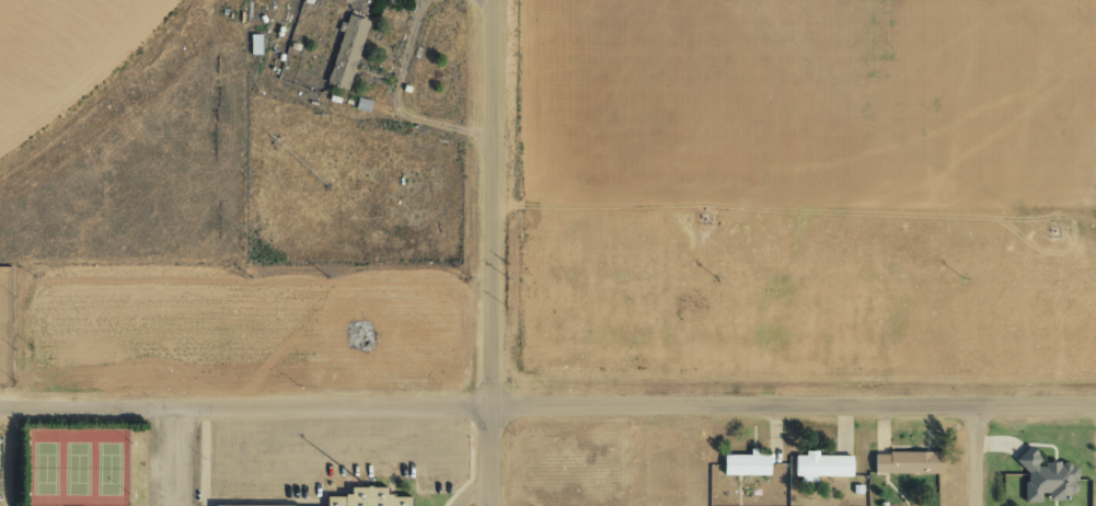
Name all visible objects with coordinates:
building: (343, 1)
building: (345, 51)
road: (492, 203)
road: (547, 405)
road: (175, 453)
road: (493, 456)
road: (979, 456)
building: (904, 462)
building: (742, 463)
building: (818, 465)
park: (79, 467)
building: (1045, 479)
road: (475, 496)
building: (367, 498)
building: (227, 505)

